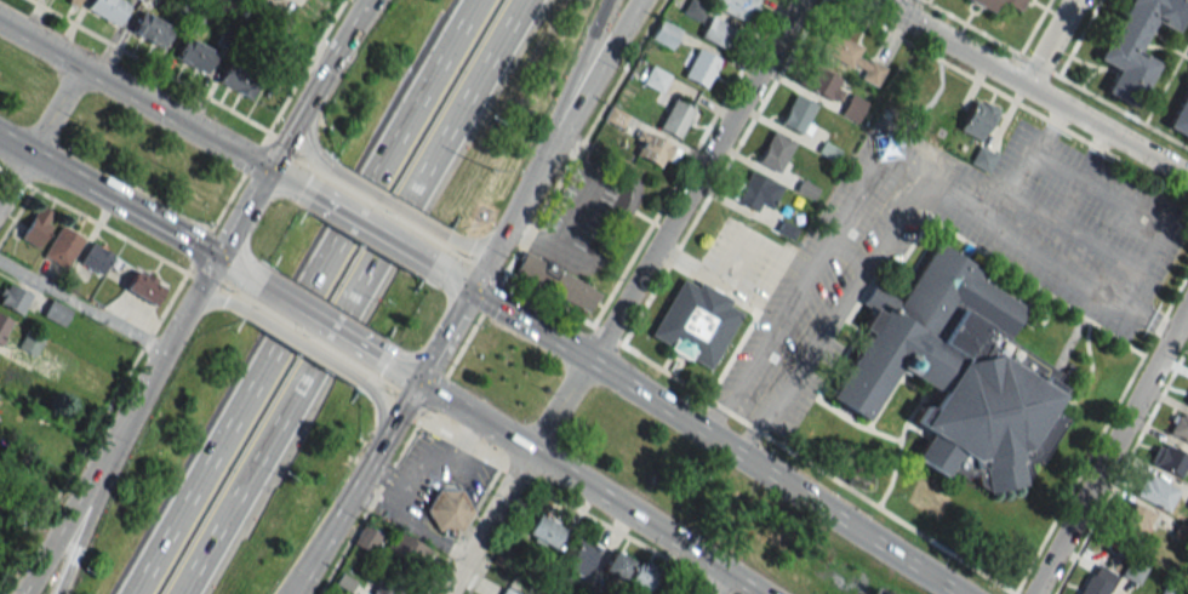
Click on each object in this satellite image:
building: (72, 1)
road: (885, 2)
building: (316, 4)
building: (735, 7)
building: (984, 7)
building: (107, 8)
building: (693, 8)
building: (150, 29)
building: (715, 32)
building: (664, 34)
road: (1049, 42)
building: (1135, 45)
road: (338, 48)
building: (194, 55)
building: (850, 57)
road: (153, 67)
building: (699, 68)
building: (655, 79)
building: (236, 80)
building: (824, 84)
road: (1032, 88)
road: (566, 93)
road: (584, 93)
road: (132, 96)
building: (853, 107)
road: (55, 110)
building: (798, 114)
building: (1180, 115)
building: (675, 119)
building: (977, 119)
road: (287, 135)
road: (301, 135)
road: (581, 141)
road: (282, 144)
building: (653, 150)
building: (775, 152)
building: (981, 159)
road: (302, 160)
road: (1027, 162)
traffic signals: (267, 171)
road: (15, 176)
road: (275, 176)
road: (257, 187)
building: (755, 190)
road: (108, 199)
road: (383, 204)
road: (377, 206)
road: (96, 222)
road: (358, 223)
building: (36, 227)
road: (232, 233)
road: (501, 238)
building: (62, 246)
road: (473, 249)
road: (456, 252)
road: (844, 253)
road: (1047, 256)
building: (95, 257)
road: (729, 257)
traffic signals: (216, 262)
road: (484, 264)
road: (806, 265)
road: (227, 269)
road: (450, 276)
road: (206, 279)
building: (553, 281)
road: (249, 282)
building: (143, 286)
road: (228, 287)
traffic signals: (470, 287)
road: (213, 296)
road: (352, 296)
road: (307, 297)
road: (489, 297)
road: (546, 297)
building: (12, 298)
road: (626, 298)
road: (81, 307)
building: (56, 313)
road: (453, 316)
road: (833, 316)
building: (692, 324)
building: (4, 325)
road: (178, 325)
road: (326, 329)
road: (605, 336)
road: (307, 337)
building: (30, 343)
road: (462, 343)
road: (301, 345)
road: (427, 364)
road: (404, 376)
building: (953, 376)
traffic signals: (416, 383)
road: (384, 385)
road: (436, 393)
building: (1186, 399)
road: (400, 404)
road: (382, 406)
road: (419, 417)
building: (1177, 425)
road: (713, 436)
road: (1109, 446)
building: (1167, 459)
road: (815, 468)
road: (1120, 470)
road: (586, 485)
road: (353, 487)
road: (81, 491)
road: (98, 491)
building: (1155, 492)
building: (1187, 503)
building: (446, 510)
building: (13, 513)
building: (1133, 521)
building: (543, 531)
building: (366, 539)
road: (314, 543)
building: (407, 550)
building: (579, 558)
building: (616, 566)
building: (640, 577)
building: (1097, 581)
road: (718, 584)
building: (388, 587)
building: (503, 592)
building: (656, 593)
road: (955, 593)

